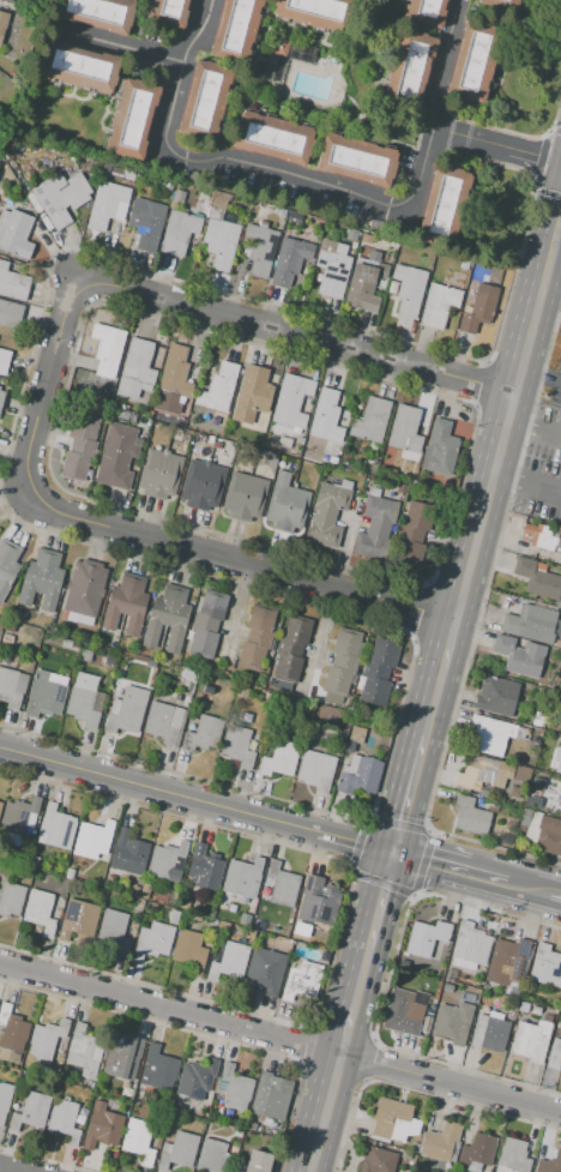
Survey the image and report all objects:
building: (7, 1)
building: (499, 4)
building: (424, 11)
building: (169, 12)
building: (314, 12)
building: (97, 14)
building: (2, 23)
building: (234, 29)
road: (123, 47)
building: (283, 60)
building: (472, 61)
building: (79, 65)
building: (409, 68)
building: (204, 100)
building: (132, 119)
building: (271, 138)
road: (501, 149)
building: (355, 160)
building: (104, 168)
building: (115, 174)
building: (128, 175)
road: (320, 182)
building: (179, 196)
building: (53, 202)
building: (107, 205)
building: (442, 205)
building: (294, 218)
building: (146, 223)
road: (559, 224)
building: (179, 232)
building: (14, 233)
road: (559, 234)
building: (350, 235)
building: (221, 244)
building: (327, 246)
building: (260, 250)
building: (373, 256)
building: (289, 260)
building: (332, 272)
building: (12, 283)
building: (364, 287)
building: (410, 289)
road: (550, 296)
building: (438, 305)
building: (478, 309)
road: (533, 312)
building: (10, 314)
road: (294, 331)
building: (107, 348)
building: (4, 361)
building: (135, 369)
building: (175, 372)
road: (47, 378)
building: (218, 387)
building: (103, 390)
building: (252, 392)
building: (1, 398)
building: (291, 401)
building: (122, 415)
building: (326, 416)
building: (370, 420)
road: (533, 425)
building: (404, 429)
building: (296, 431)
building: (206, 439)
building: (300, 440)
building: (283, 441)
building: (217, 445)
building: (370, 446)
building: (79, 447)
building: (440, 449)
building: (116, 455)
building: (344, 456)
building: (332, 461)
building: (284, 465)
building: (158, 474)
road: (527, 483)
building: (201, 485)
building: (345, 485)
building: (374, 492)
building: (245, 497)
building: (286, 504)
road: (483, 505)
building: (326, 515)
building: (416, 518)
building: (374, 528)
building: (541, 537)
road: (235, 561)
building: (7, 565)
building: (537, 578)
building: (41, 579)
building: (84, 590)
building: (125, 605)
building: (559, 605)
road: (236, 608)
building: (16, 614)
building: (168, 617)
building: (206, 624)
building: (530, 624)
building: (8, 626)
building: (7, 637)
building: (255, 641)
building: (66, 642)
building: (110, 642)
road: (446, 645)
building: (291, 651)
building: (85, 655)
building: (519, 656)
building: (342, 663)
building: (378, 671)
building: (188, 675)
building: (12, 687)
building: (242, 692)
building: (46, 695)
building: (496, 697)
building: (84, 701)
road: (430, 702)
building: (126, 710)
building: (163, 722)
building: (203, 733)
building: (356, 733)
building: (495, 735)
building: (237, 746)
building: (279, 759)
building: (556, 761)
building: (316, 770)
building: (524, 771)
building: (482, 773)
building: (361, 776)
road: (157, 789)
road: (406, 791)
building: (0, 801)
building: (560, 801)
building: (0, 804)
building: (491, 807)
building: (17, 815)
building: (471, 817)
building: (525, 817)
building: (511, 822)
building: (56, 827)
building: (529, 828)
building: (549, 835)
building: (92, 837)
road: (352, 839)
building: (29, 842)
traffic signals: (391, 849)
building: (128, 853)
road: (424, 857)
building: (34, 861)
building: (167, 861)
building: (204, 867)
building: (68, 873)
road: (483, 873)
building: (242, 878)
building: (282, 885)
road: (531, 885)
building: (133, 891)
road: (557, 891)
building: (143, 895)
road: (376, 898)
building: (11, 900)
building: (318, 901)
building: (185, 903)
building: (38, 910)
building: (171, 916)
building: (267, 916)
building: (245, 919)
building: (78, 921)
building: (114, 931)
building: (315, 932)
building: (427, 937)
building: (152, 940)
building: (470, 943)
building: (188, 950)
building: (229, 962)
building: (507, 962)
building: (545, 967)
building: (265, 970)
building: (448, 975)
road: (357, 976)
building: (303, 979)
building: (447, 988)
building: (523, 1008)
building: (536, 1009)
building: (405, 1011)
building: (547, 1017)
building: (452, 1023)
road: (343, 1028)
building: (11, 1029)
building: (490, 1032)
road: (280, 1036)
building: (47, 1040)
building: (531, 1040)
building: (85, 1048)
building: (554, 1054)
building: (122, 1056)
building: (158, 1068)
building: (197, 1078)
building: (107, 1088)
building: (235, 1088)
building: (272, 1095)
building: (4, 1100)
road: (320, 1111)
building: (30, 1112)
building: (64, 1119)
building: (391, 1120)
building: (102, 1126)
building: (138, 1140)
building: (441, 1141)
building: (180, 1150)
building: (477, 1152)
building: (405, 1155)
building: (513, 1155)
building: (212, 1156)
building: (378, 1160)
building: (254, 1161)
building: (549, 1164)
road: (8, 1168)

